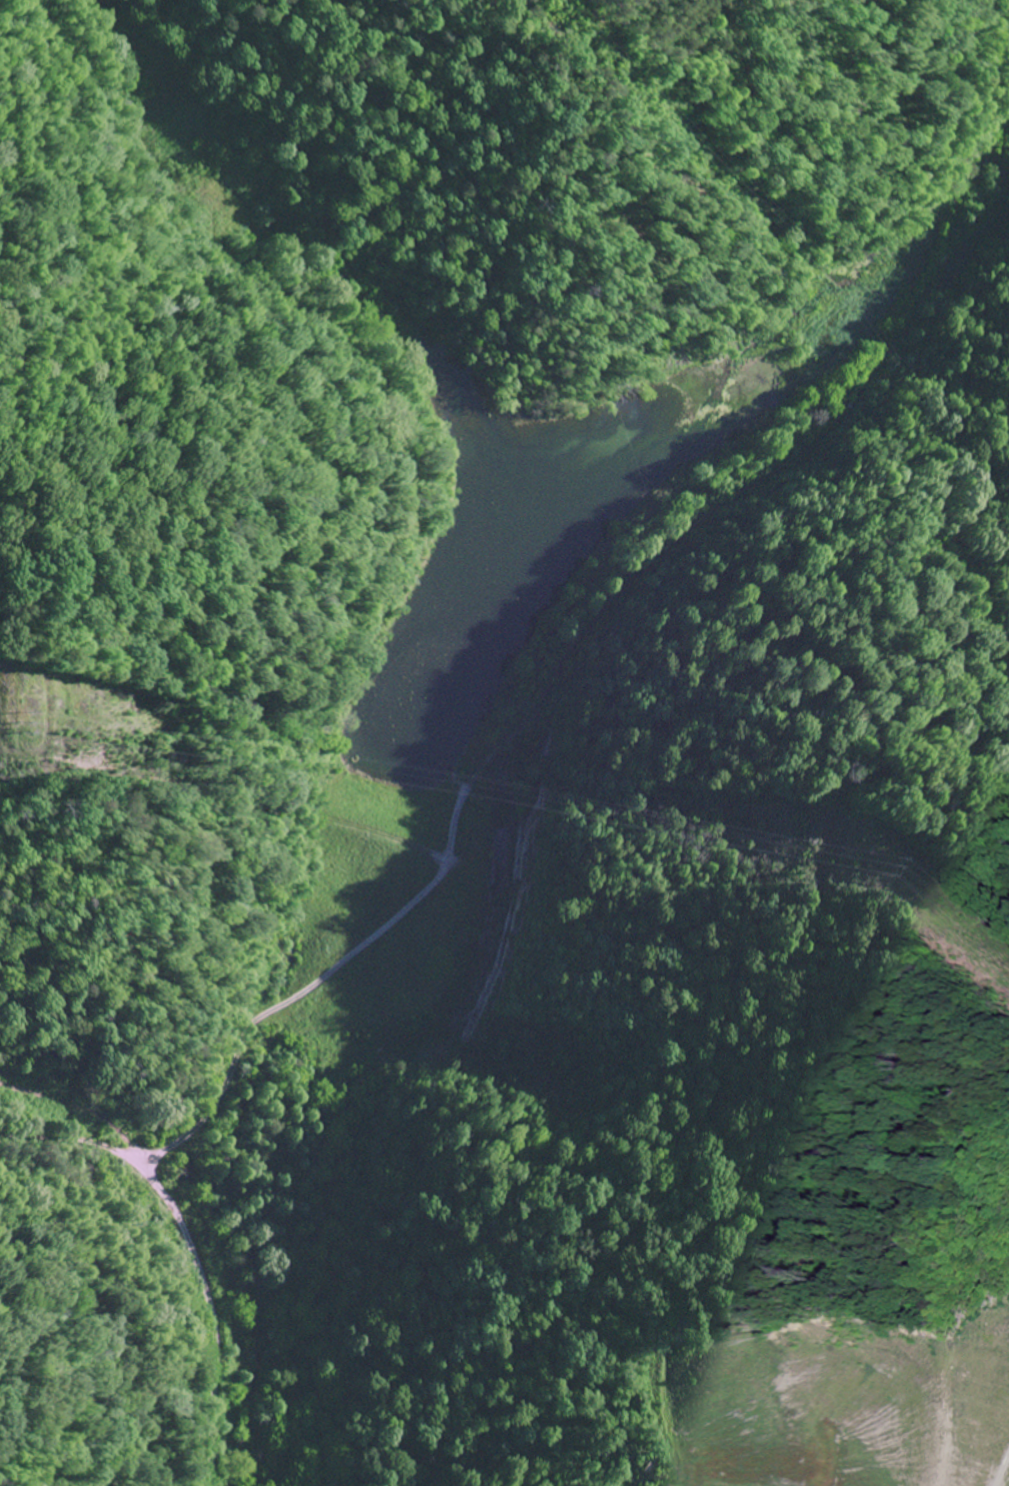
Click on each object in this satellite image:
road: (88, 1141)
road: (215, 1333)

